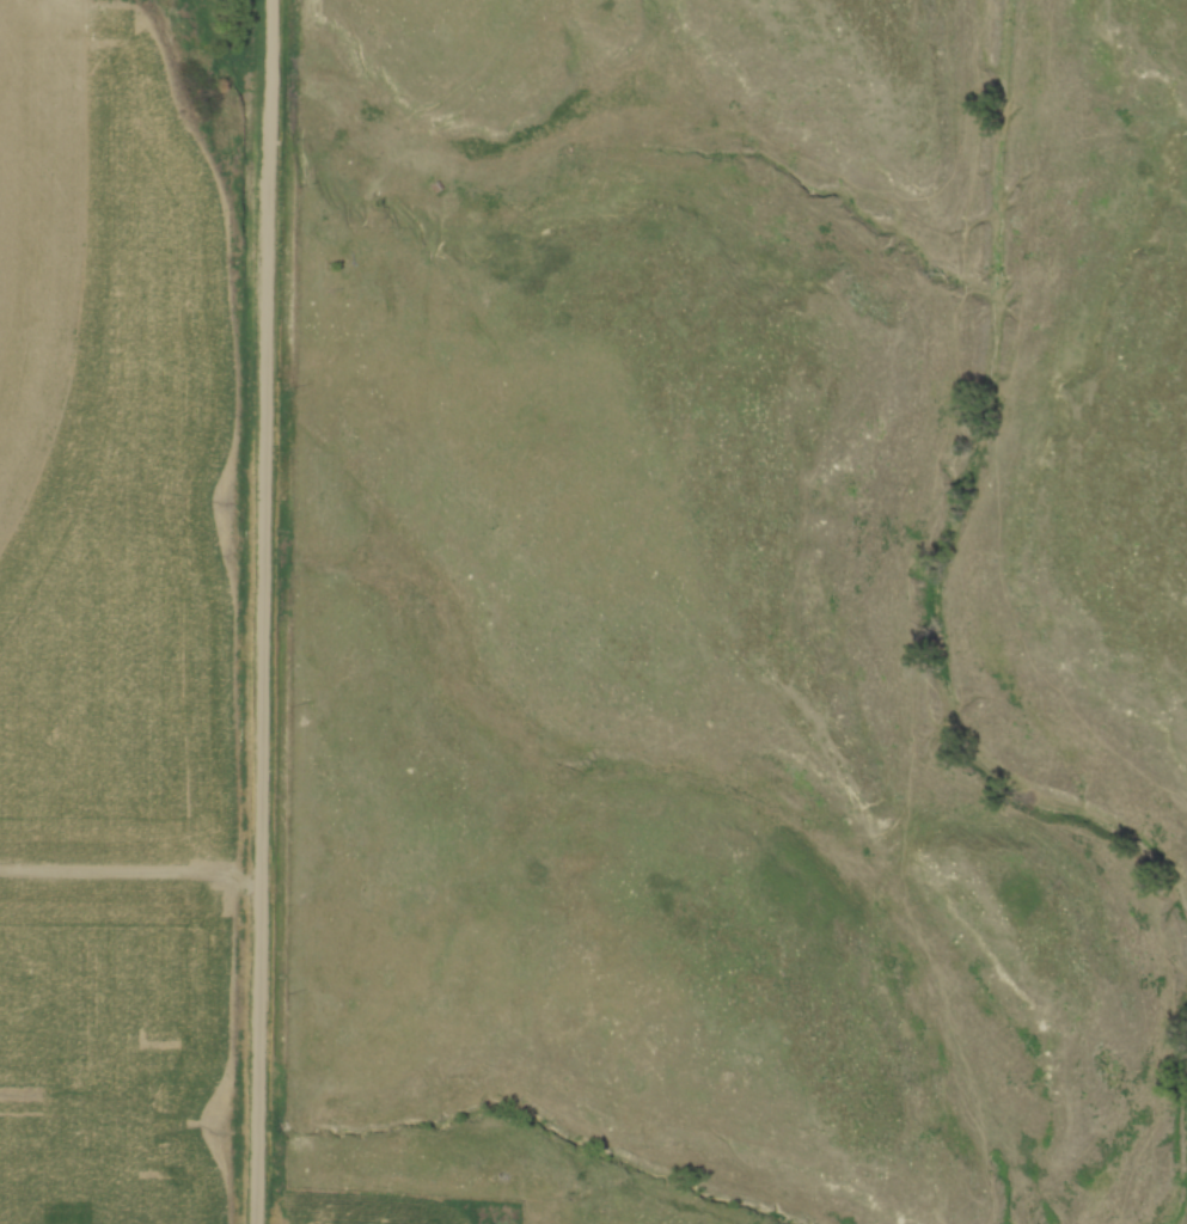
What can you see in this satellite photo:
crop: (23, 190)
road: (263, 611)

